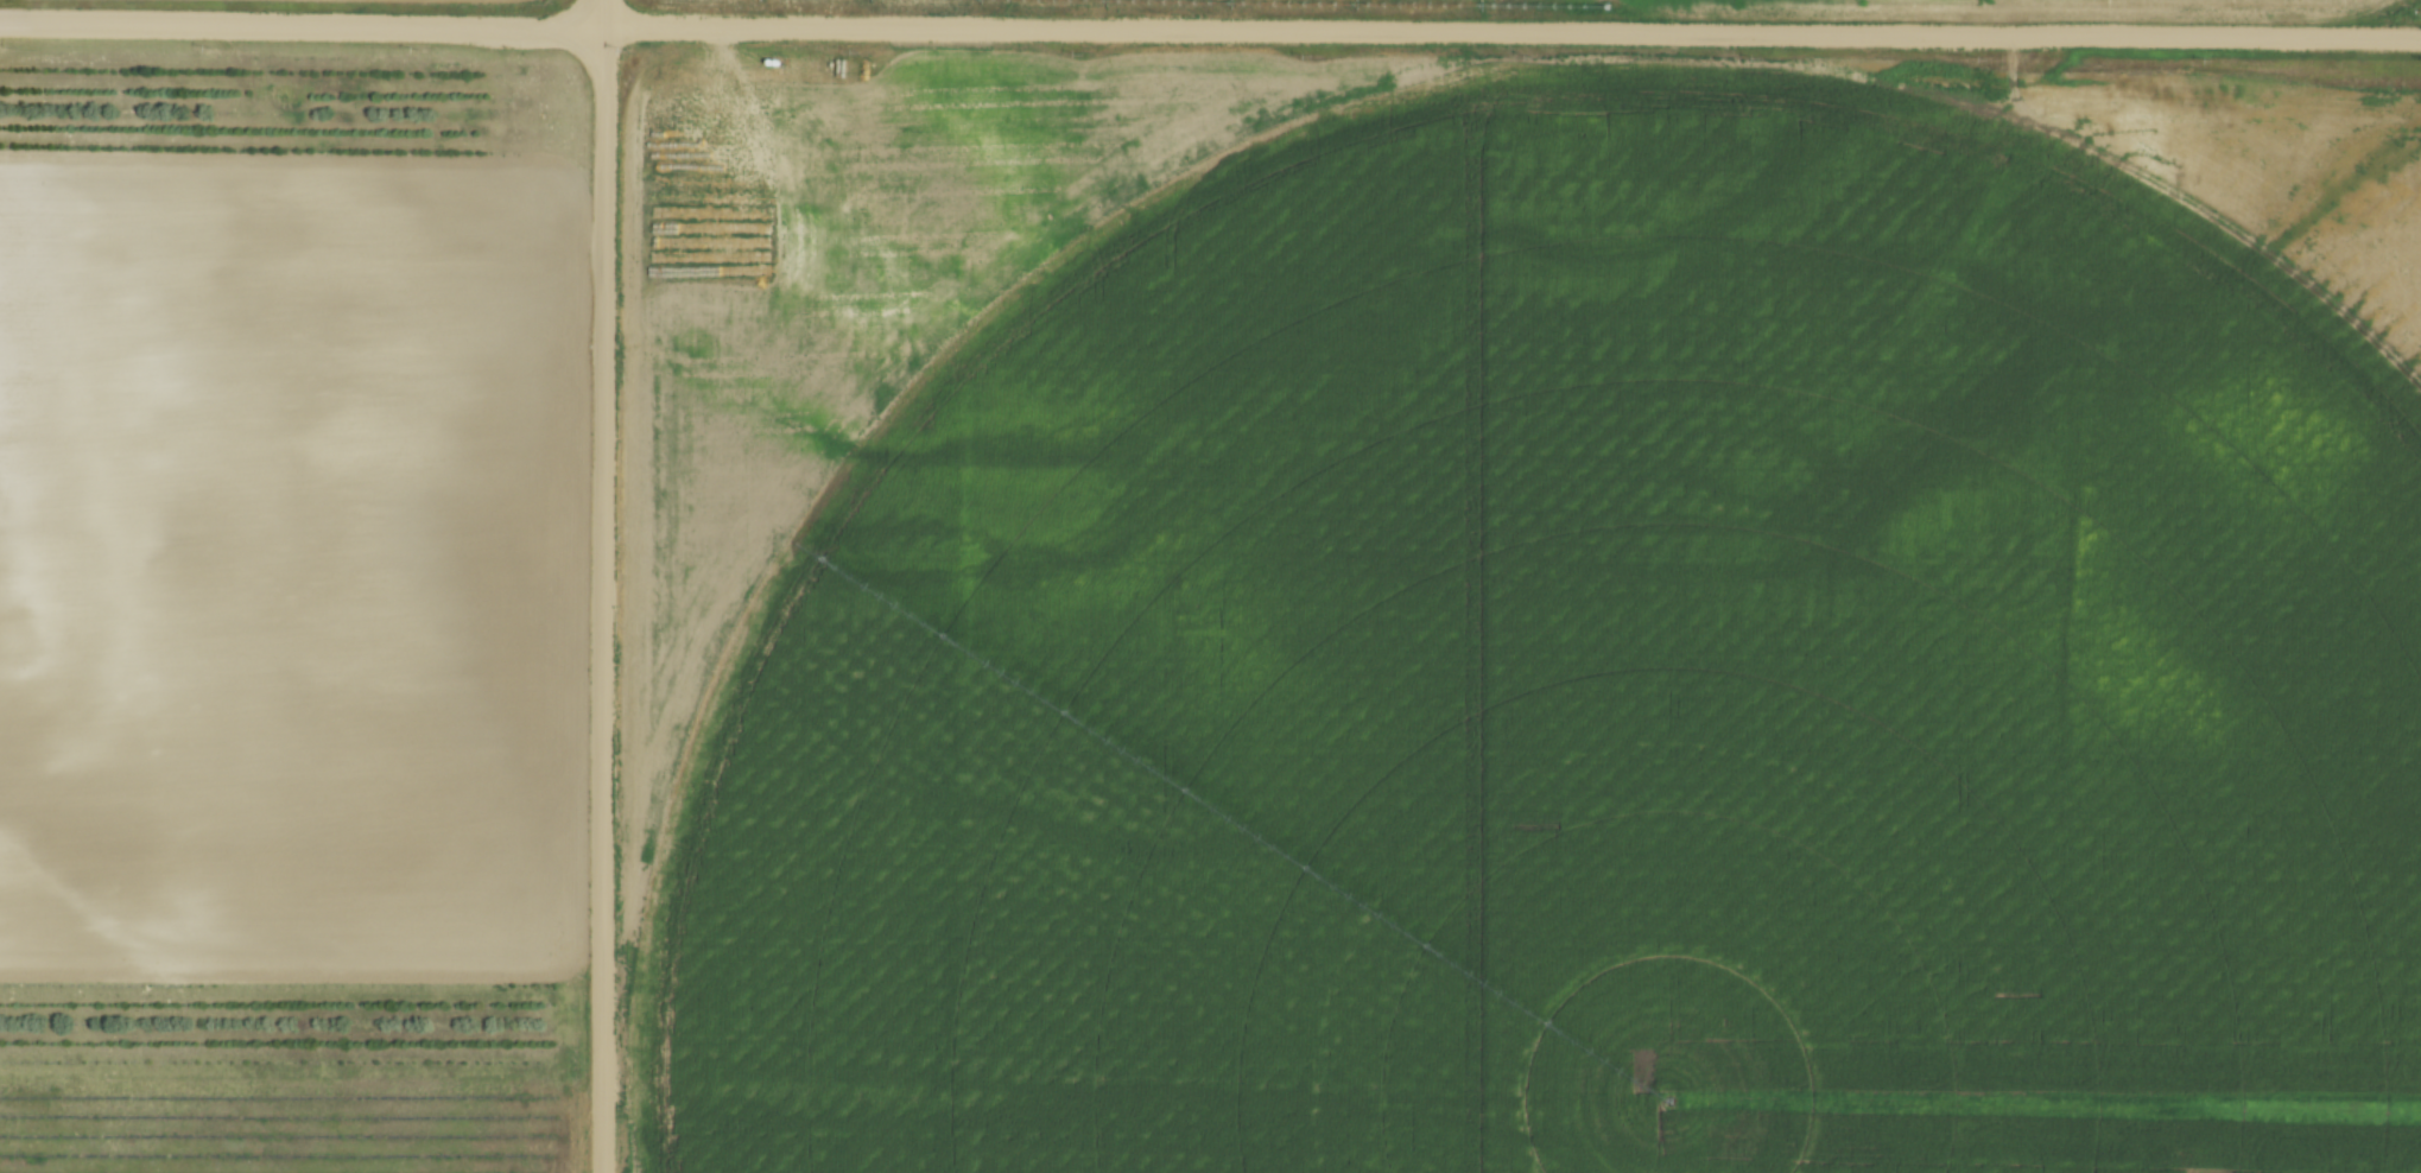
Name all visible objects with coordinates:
crop: (1753, 6)
road: (1210, 28)
crop: (296, 568)
road: (607, 586)
crop: (1547, 628)
building: (1234, 898)
building: (1323, 946)
building: (1173, 1020)
crop: (290, 1124)

